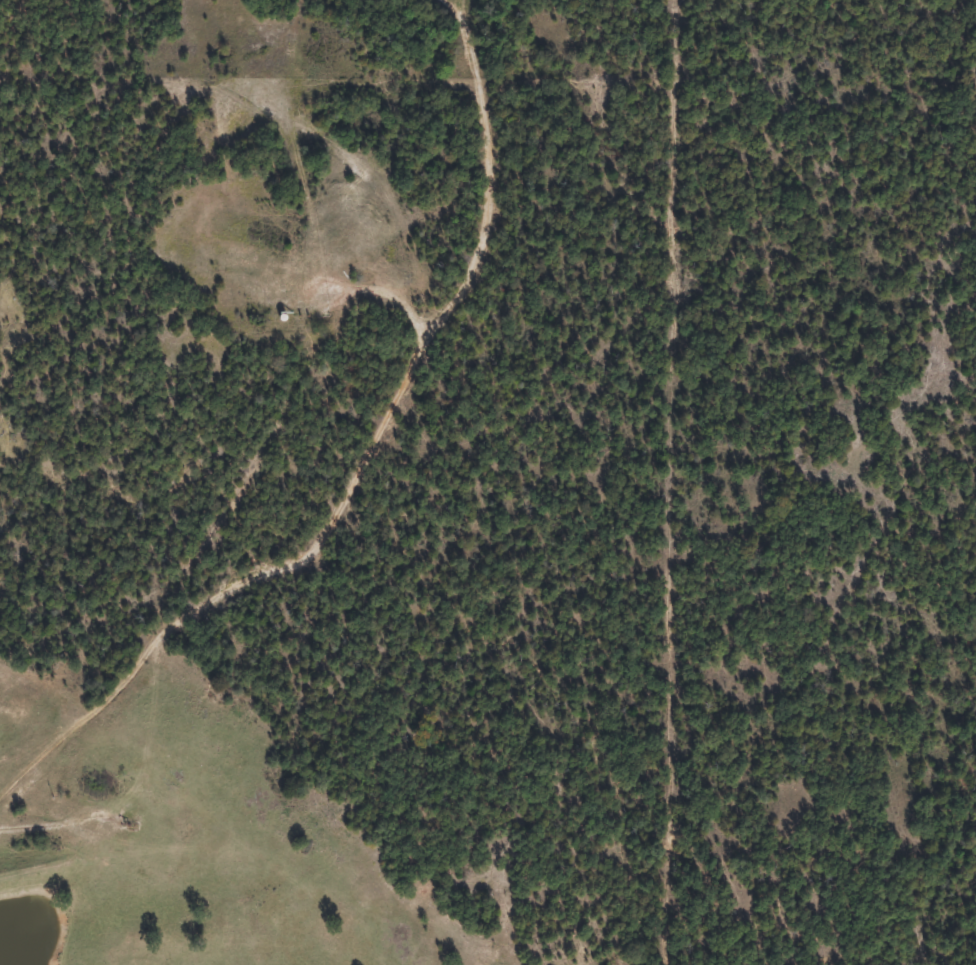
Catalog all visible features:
road: (393, 306)
road: (360, 459)

